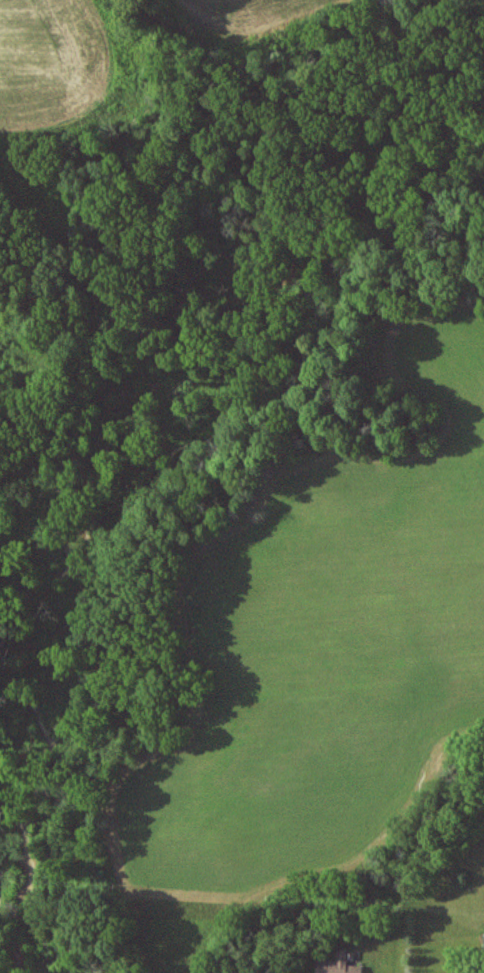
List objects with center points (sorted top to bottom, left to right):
building: (336, 964)

